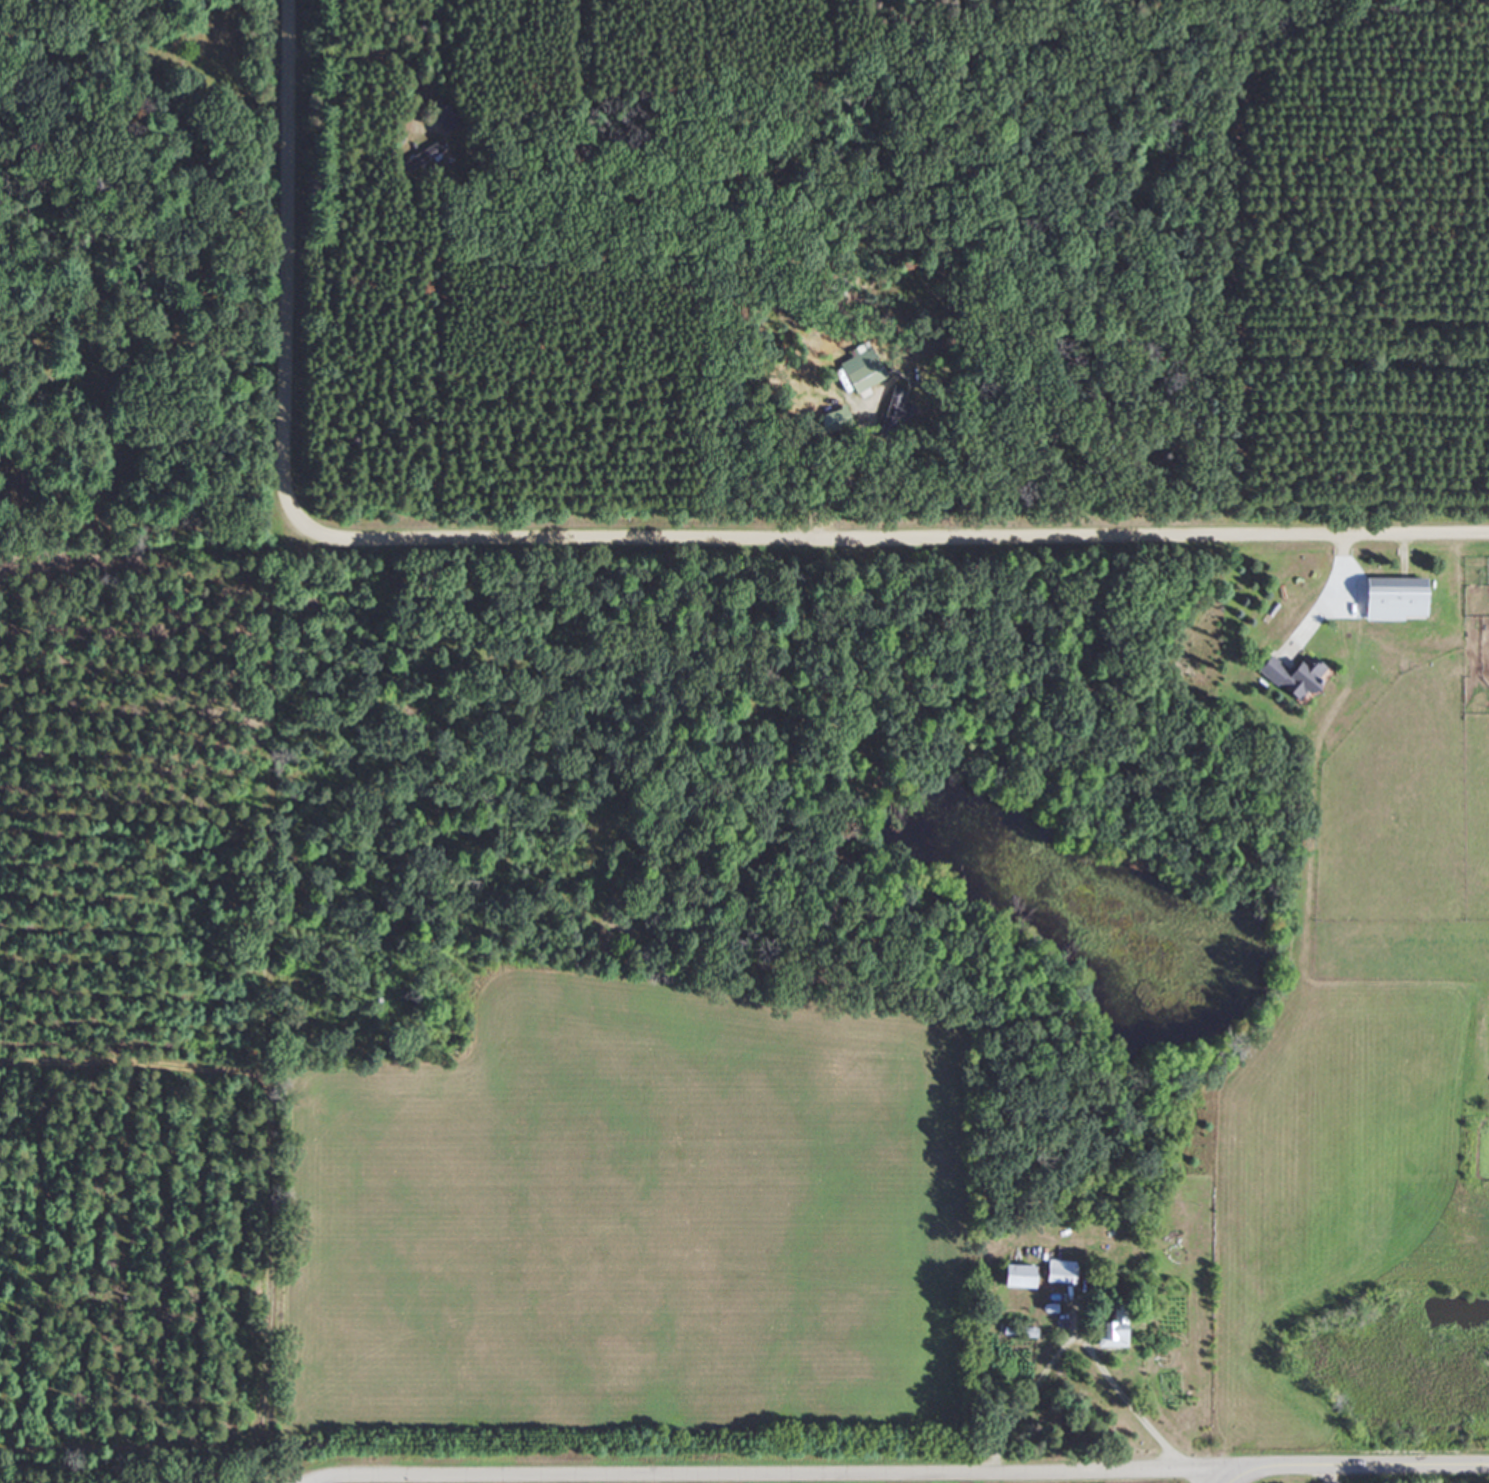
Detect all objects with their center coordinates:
parking lot: (204, 49)
road: (259, 85)
building: (444, 119)
road: (120, 132)
building: (432, 149)
road: (290, 266)
building: (866, 366)
building: (897, 408)
road: (109, 472)
road: (889, 533)
building: (1401, 598)
building: (1299, 676)
building: (1023, 1277)
building: (1115, 1329)
road: (1074, 1335)
road: (774, 1479)
road: (1350, 1480)
road: (1210, 1482)

